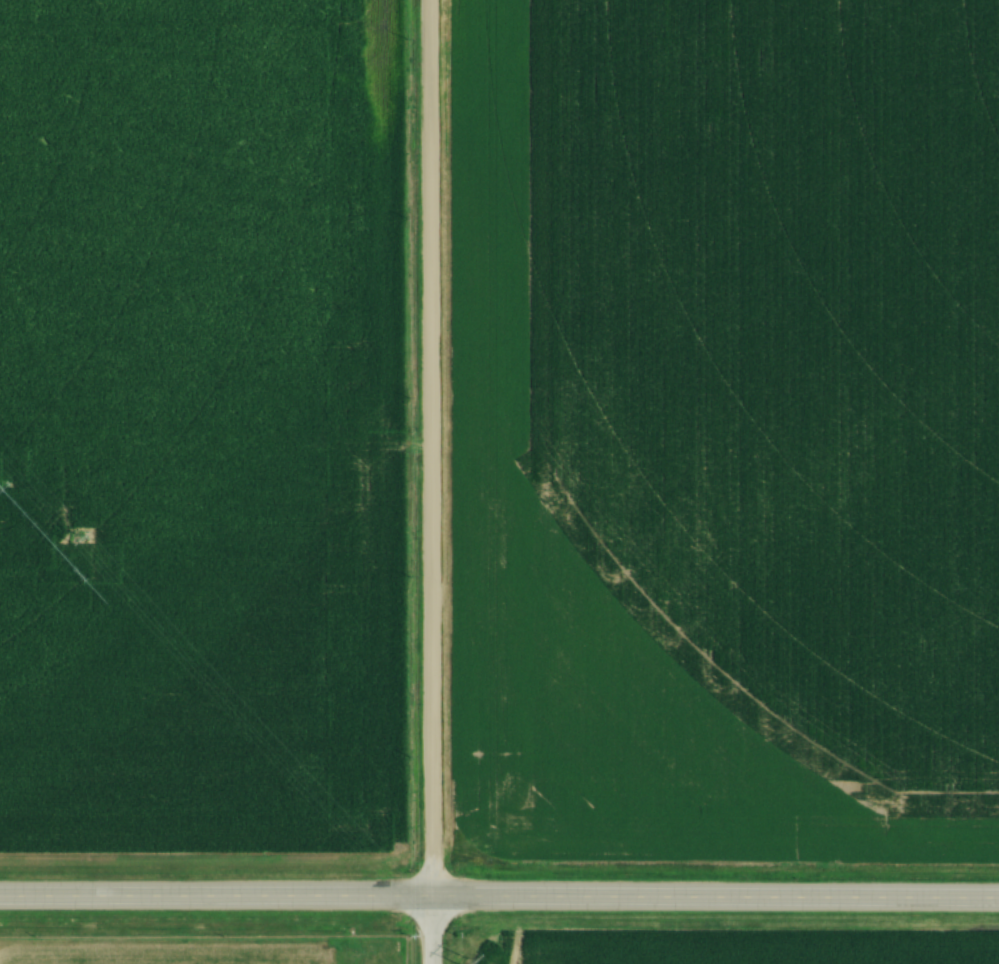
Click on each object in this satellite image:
road: (430, 481)
power tower: (72, 539)
road: (499, 891)
power tower: (456, 956)

